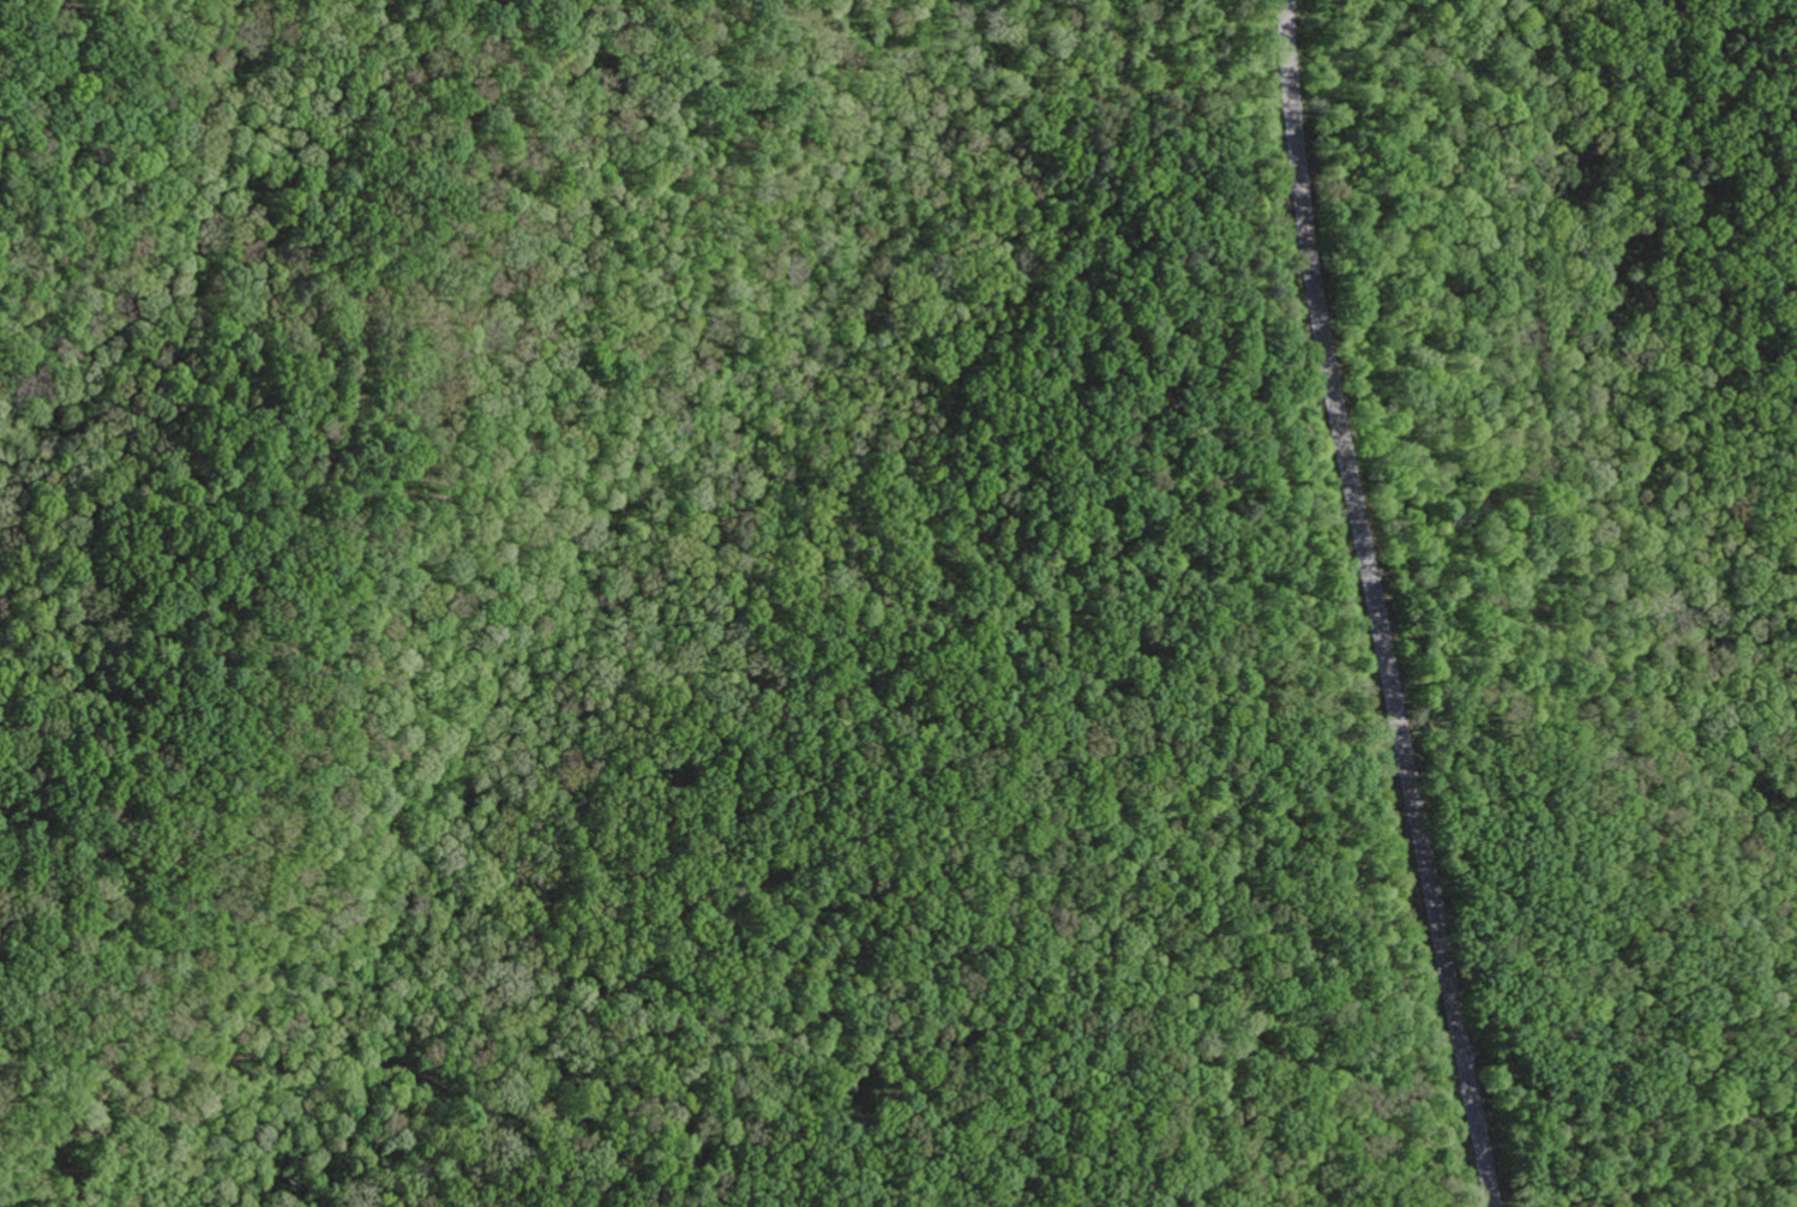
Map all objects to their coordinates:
road: (1374, 606)

